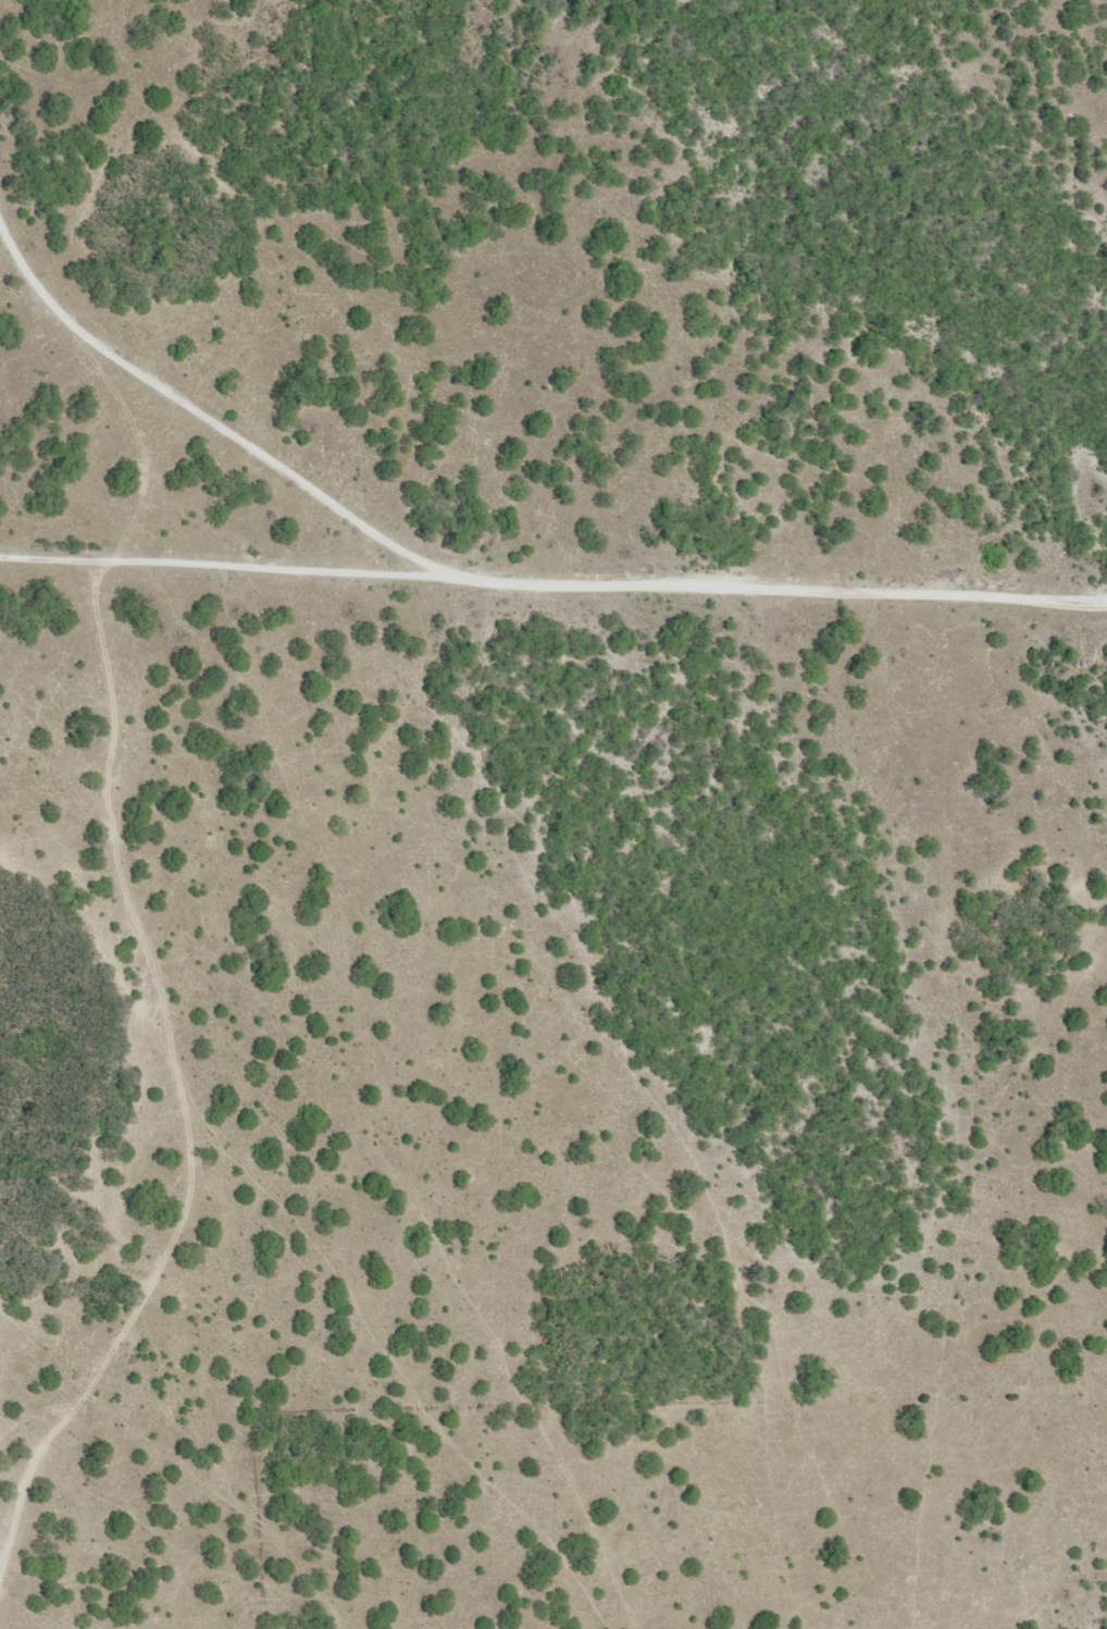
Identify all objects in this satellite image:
road: (4, 308)
road: (121, 316)
road: (553, 570)
road: (210, 1132)

